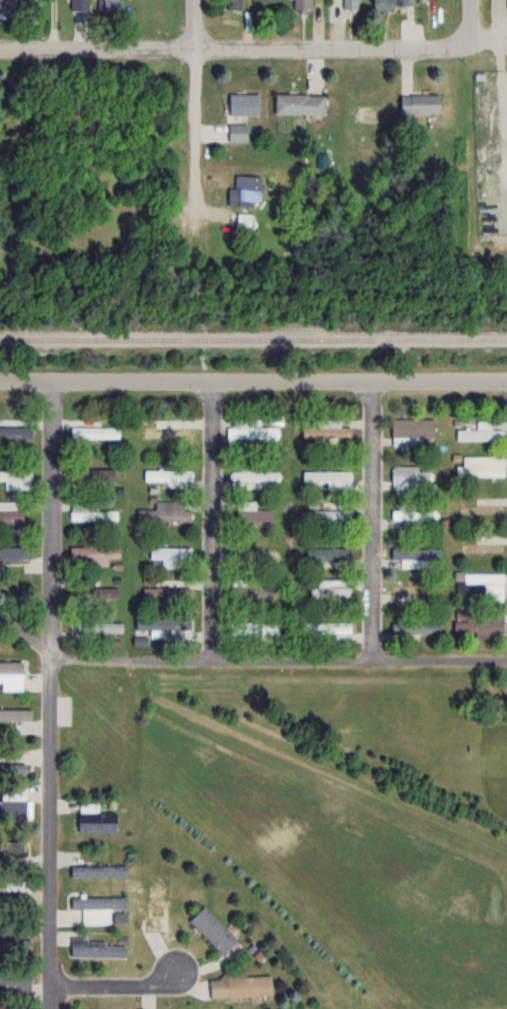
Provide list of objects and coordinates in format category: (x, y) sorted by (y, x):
building: (78, 3)
building: (109, 4)
building: (234, 4)
building: (394, 4)
building: (303, 5)
building: (350, 5)
road: (471, 22)
road: (234, 51)
building: (243, 102)
building: (299, 104)
building: (419, 104)
road: (197, 115)
building: (238, 131)
building: (243, 191)
building: (245, 219)
railway: (253, 339)
road: (253, 382)
building: (252, 428)
building: (325, 428)
building: (13, 429)
building: (92, 429)
building: (412, 429)
building: (170, 431)
building: (481, 432)
building: (482, 465)
building: (102, 473)
building: (168, 474)
building: (410, 476)
building: (329, 477)
building: (17, 478)
building: (254, 478)
building: (165, 511)
building: (11, 513)
road: (53, 513)
building: (94, 513)
building: (332, 514)
building: (415, 514)
building: (252, 515)
road: (212, 520)
road: (372, 520)
building: (14, 553)
building: (254, 553)
building: (328, 553)
building: (92, 554)
building: (173, 556)
building: (416, 556)
building: (480, 584)
building: (250, 589)
building: (331, 589)
building: (92, 590)
building: (166, 595)
building: (478, 622)
building: (408, 626)
building: (254, 628)
building: (328, 628)
road: (244, 657)
building: (11, 667)
building: (17, 717)
building: (12, 767)
building: (13, 801)
building: (95, 817)
road: (50, 831)
building: (97, 870)
building: (14, 883)
building: (156, 901)
building: (96, 907)
building: (212, 928)
building: (8, 934)
building: (97, 948)
building: (15, 981)
building: (238, 984)
road: (116, 985)
building: (94, 1008)

